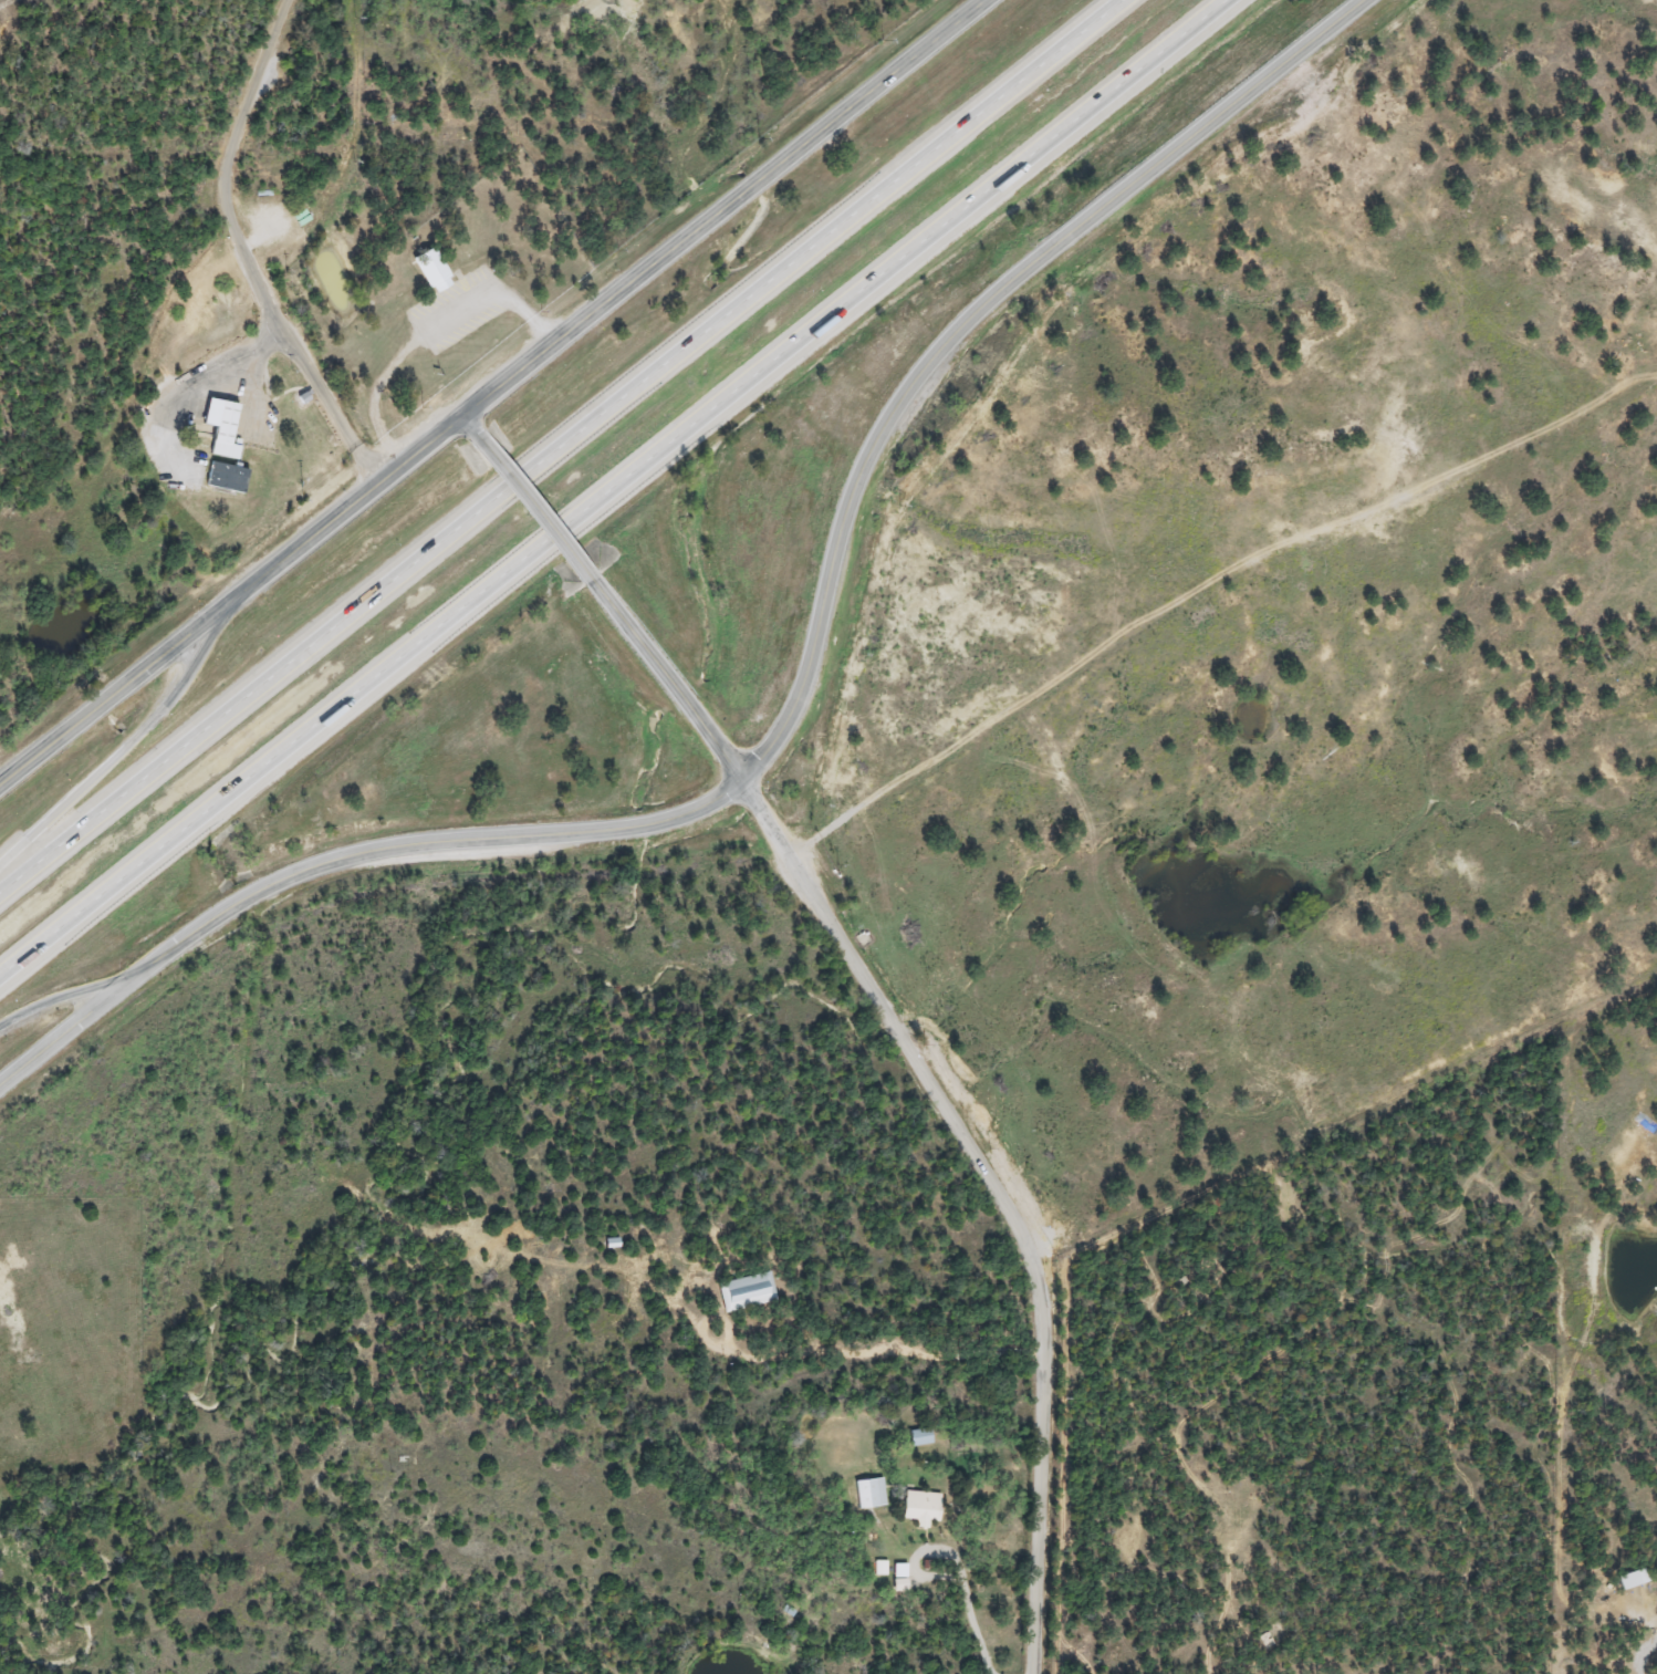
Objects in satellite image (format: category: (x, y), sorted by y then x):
road: (1124, 81)
road: (236, 249)
building: (428, 270)
road: (484, 284)
road: (600, 294)
road: (961, 325)
road: (177, 377)
road: (371, 391)
road: (467, 418)
building: (218, 427)
road: (561, 445)
building: (222, 478)
road: (533, 503)
road: (510, 568)
road: (663, 677)
road: (114, 683)
road: (125, 736)
road: (437, 841)
road: (77, 991)
road: (76, 1013)
road: (993, 1193)
building: (743, 1291)
building: (918, 1437)
building: (917, 1507)
road: (913, 1549)
road: (972, 1626)

